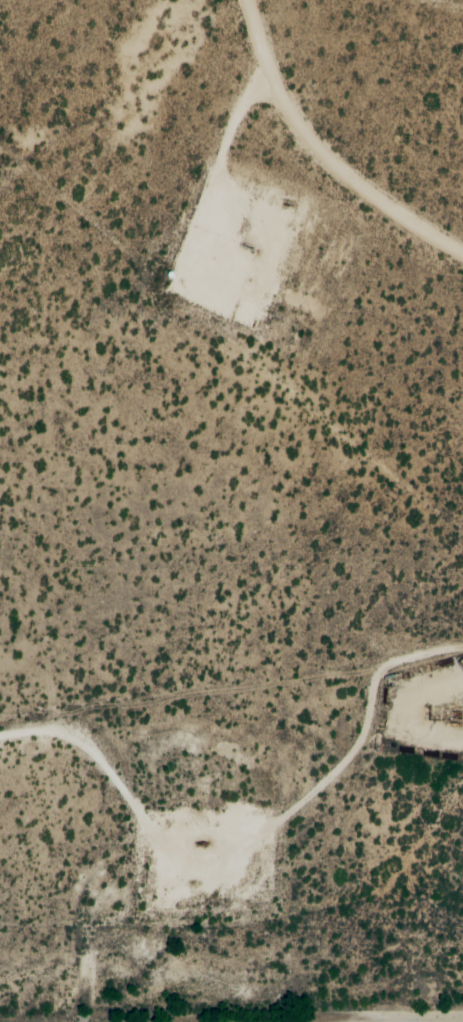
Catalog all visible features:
road: (329, 146)

